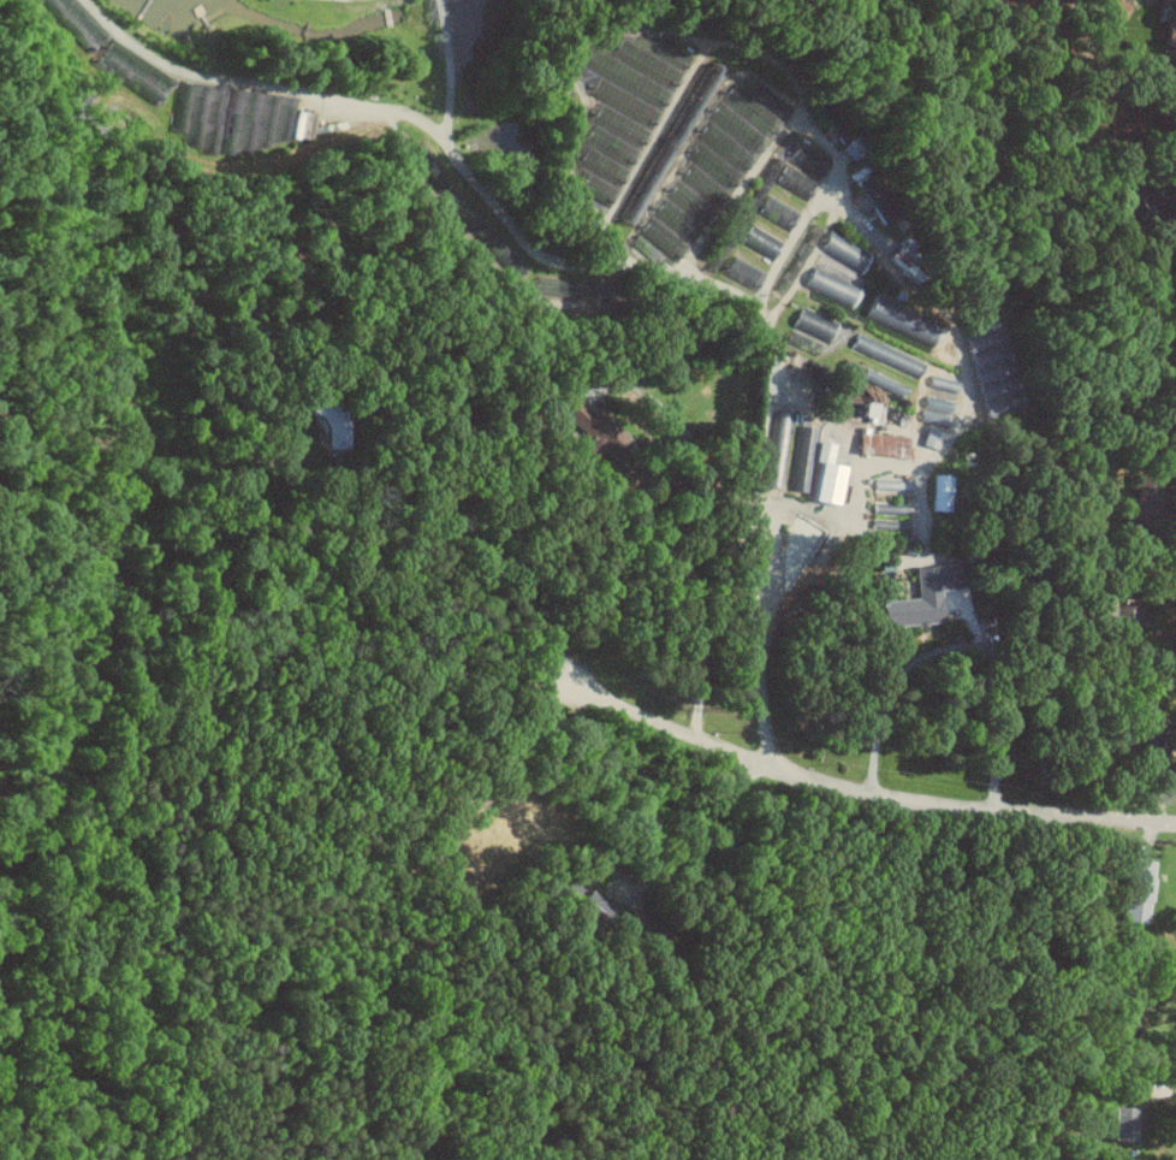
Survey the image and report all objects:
building: (1169, 25)
road: (575, 60)
building: (132, 70)
road: (446, 73)
road: (796, 94)
building: (694, 102)
building: (623, 110)
building: (233, 118)
building: (735, 130)
road: (655, 135)
road: (1165, 161)
building: (646, 184)
building: (796, 189)
road: (851, 213)
building: (678, 214)
building: (725, 243)
road: (791, 244)
road: (601, 271)
building: (742, 272)
building: (809, 324)
building: (853, 367)
building: (942, 385)
building: (992, 398)
building: (862, 409)
building: (933, 410)
building: (588, 426)
building: (337, 427)
building: (927, 438)
building: (881, 445)
building: (802, 457)
building: (939, 491)
building: (1145, 499)
road: (838, 516)
road: (701, 532)
road: (488, 550)
road: (889, 550)
road: (929, 554)
building: (917, 598)
building: (1119, 623)
road: (890, 687)
road: (863, 793)
road: (696, 829)
building: (1136, 889)
building: (1119, 1121)

